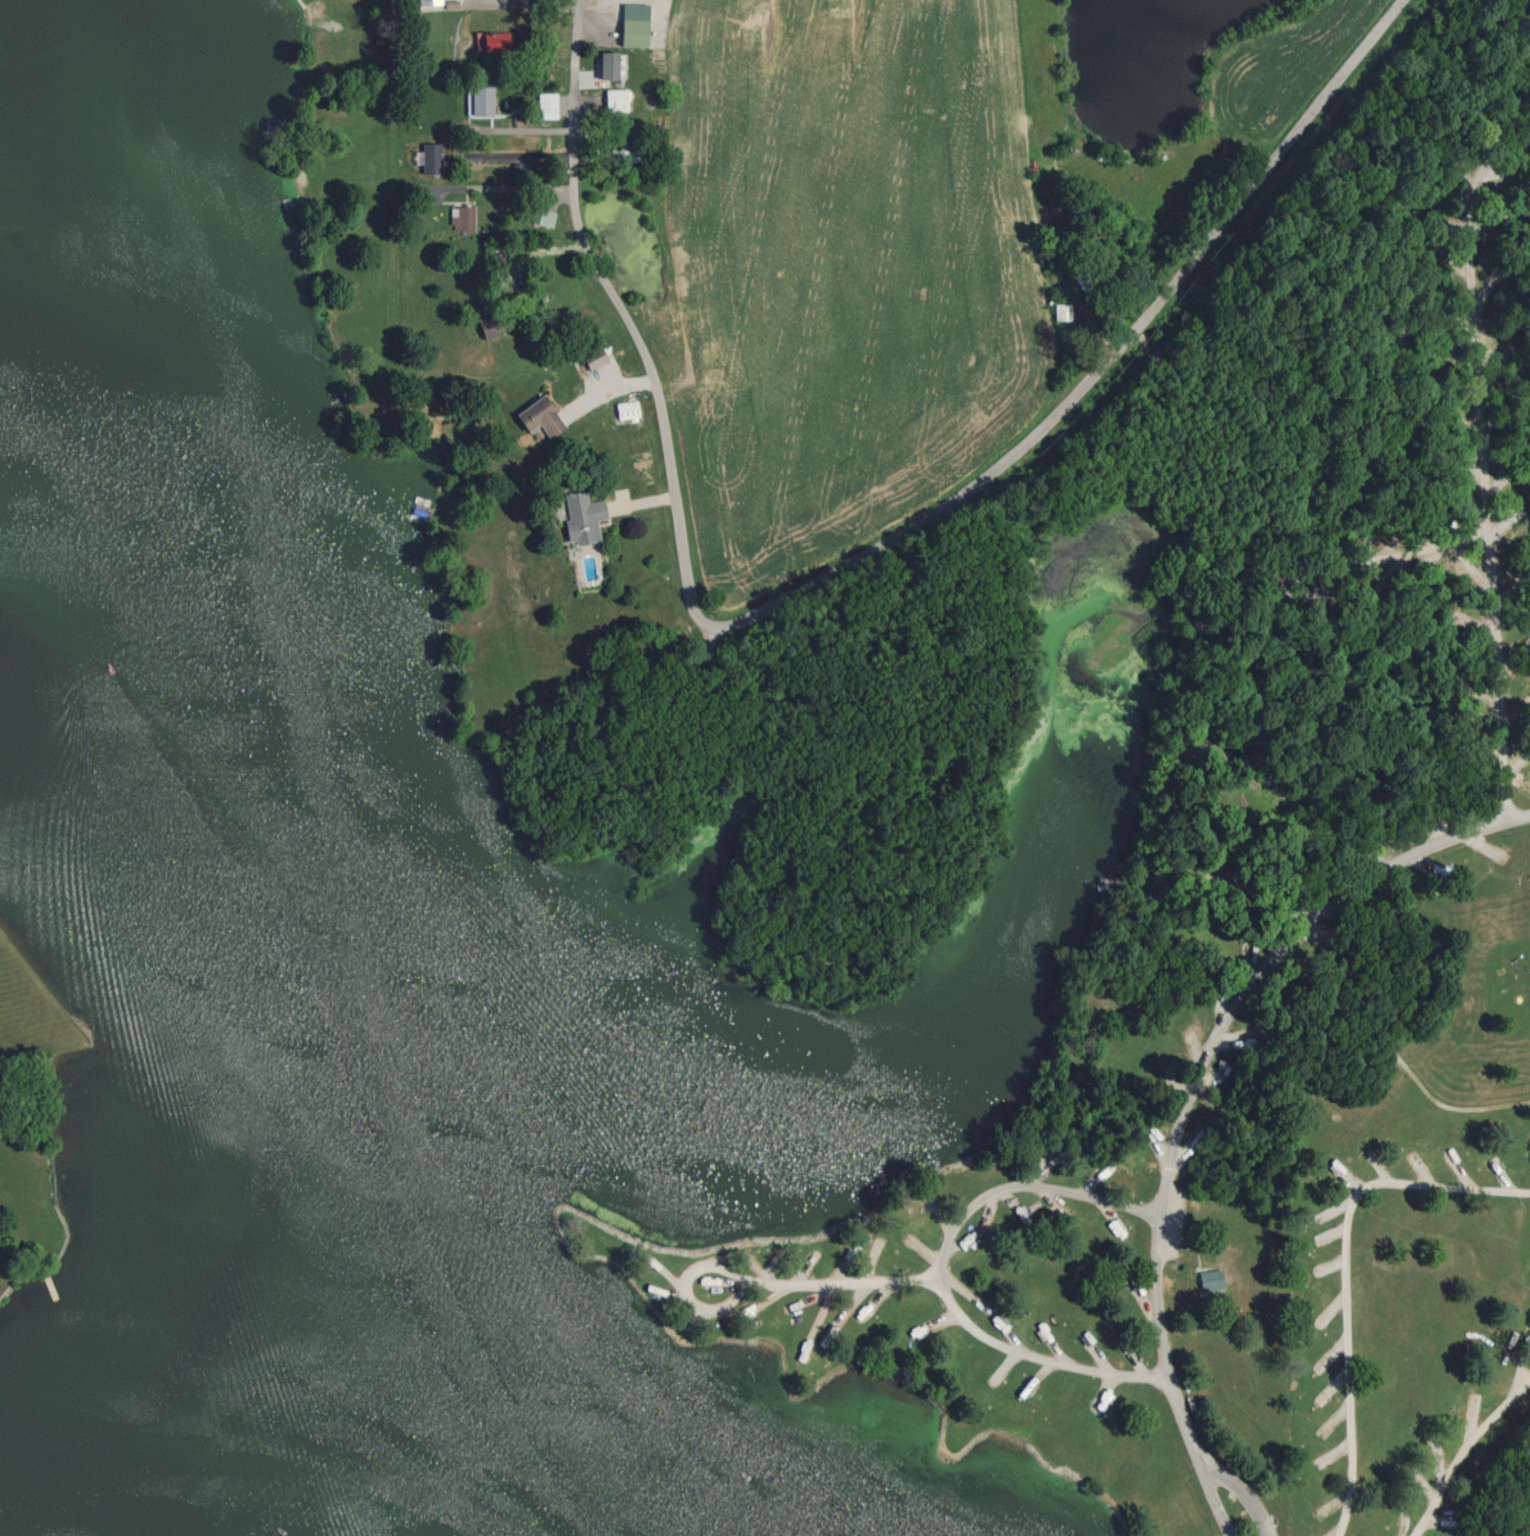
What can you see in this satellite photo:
building: (647, 0)
building: (436, 4)
building: (633, 32)
building: (492, 41)
building: (607, 65)
building: (615, 99)
building: (480, 100)
building: (546, 104)
building: (512, 154)
building: (620, 154)
building: (542, 217)
building: (463, 218)
road: (608, 285)
building: (498, 321)
building: (593, 358)
road: (1079, 398)
building: (625, 411)
building: (533, 413)
road: (1485, 459)
building: (581, 518)
park: (1179, 956)
road: (1187, 1091)
road: (1339, 1268)
road: (942, 1271)
building: (1210, 1279)
road: (762, 1287)
road: (1466, 1453)
road: (1241, 1489)

